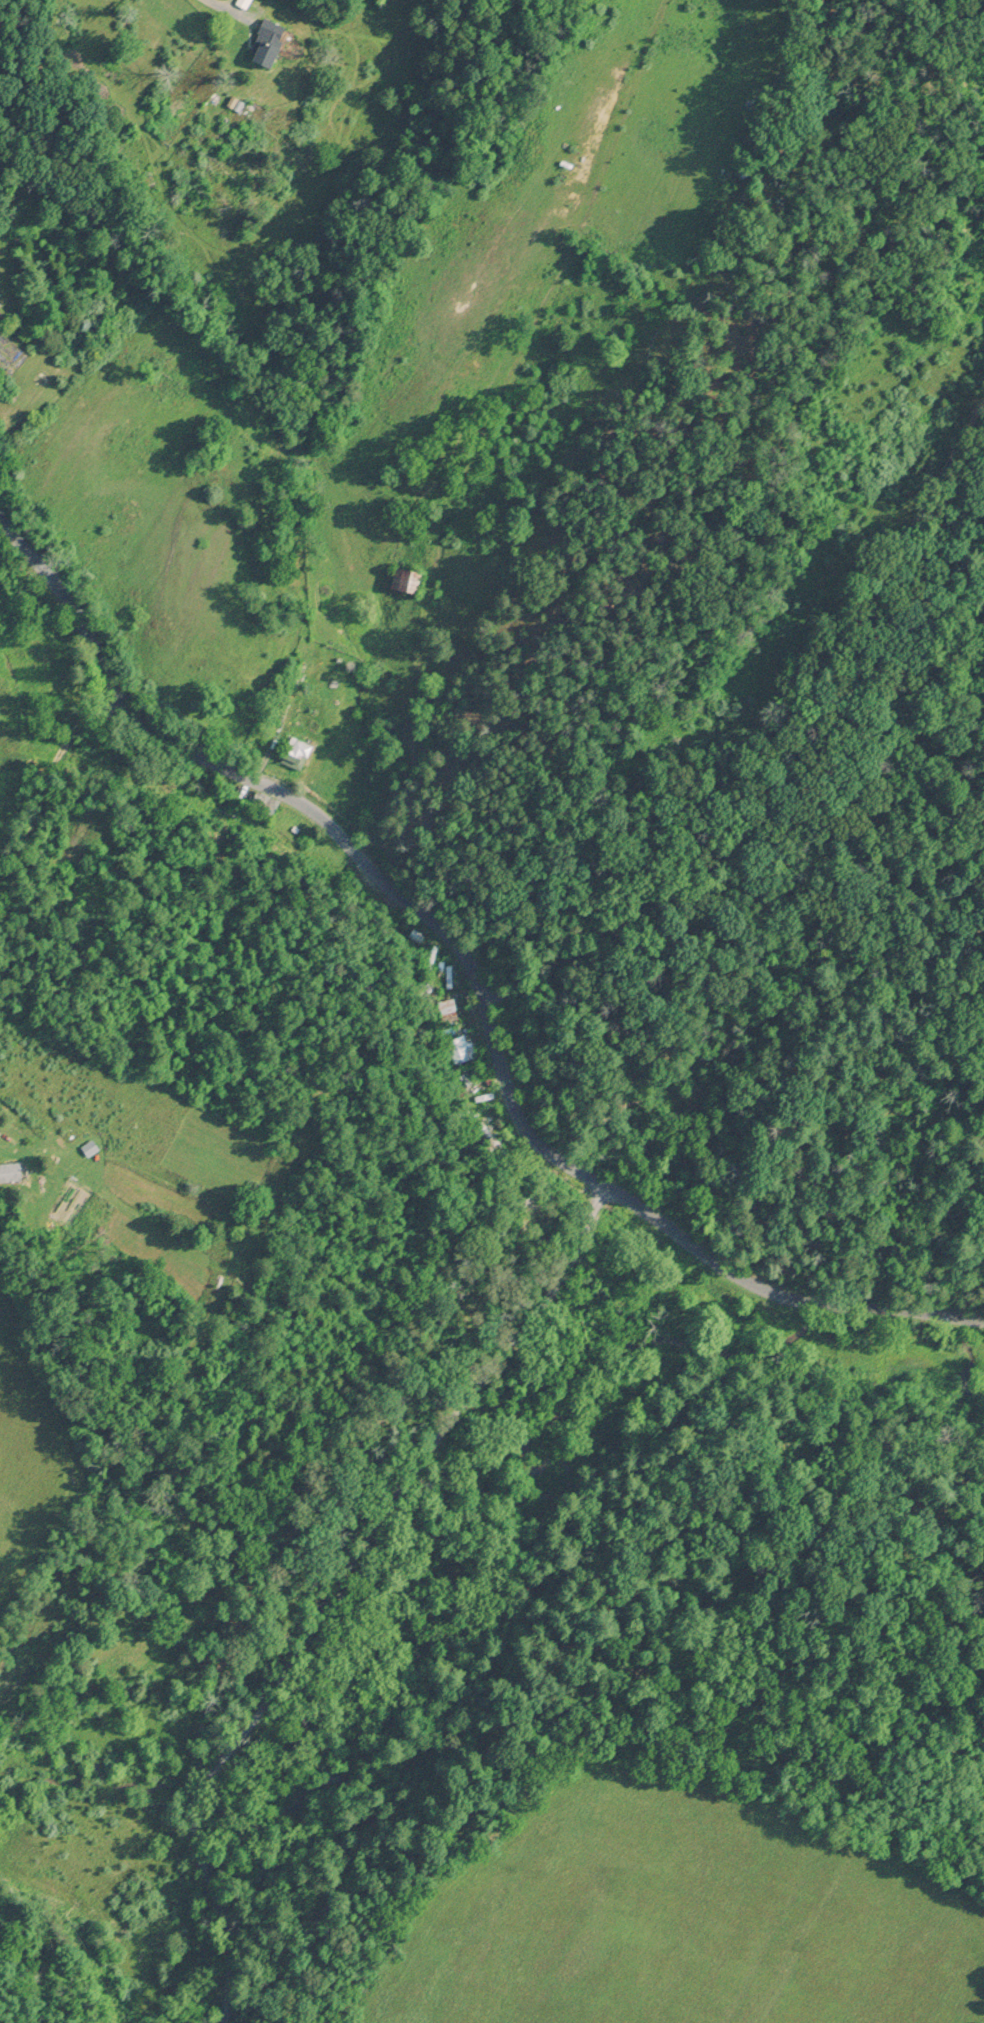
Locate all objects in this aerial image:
road: (211, 1)
building: (265, 43)
road: (489, 420)
building: (403, 579)
building: (71, 693)
road: (781, 745)
building: (293, 752)
road: (122, 772)
building: (263, 803)
road: (334, 833)
building: (449, 1014)
building: (460, 1048)
building: (9, 1171)
road: (792, 1292)
road: (410, 1502)
road: (225, 1916)

